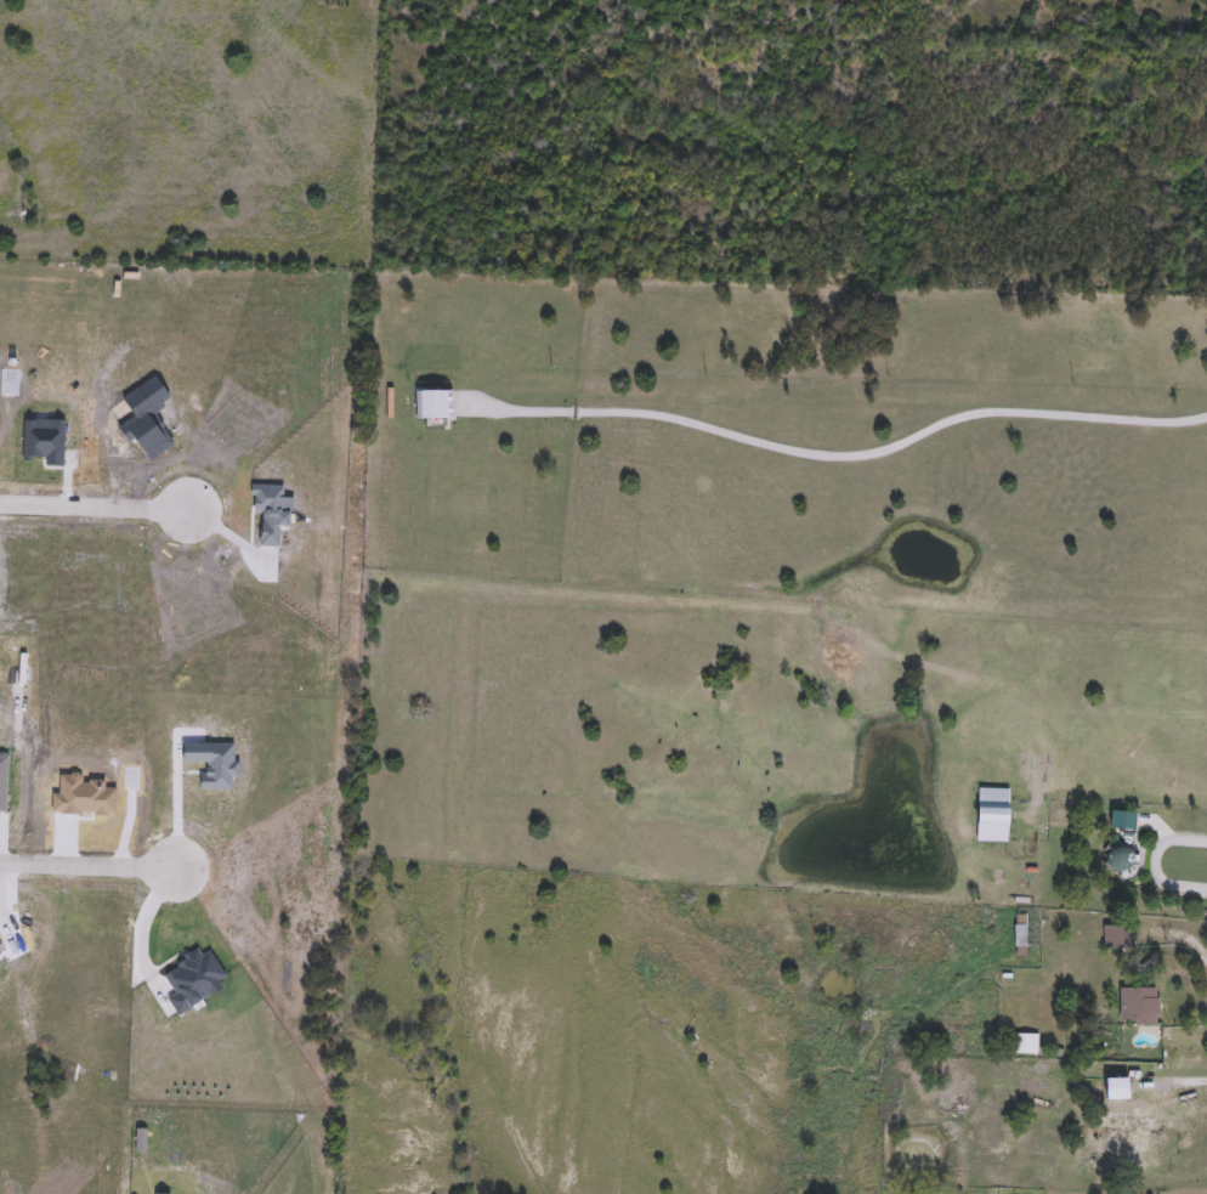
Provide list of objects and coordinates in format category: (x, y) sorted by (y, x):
road: (843, 452)
road: (93, 503)
building: (994, 815)
building: (1123, 820)
road: (1155, 861)
road: (86, 862)
road: (135, 927)
road: (1175, 932)
building: (1116, 936)
building: (1139, 1006)
building: (1025, 1043)
building: (874, 1071)
road: (1180, 1079)
building: (1118, 1088)
building: (1149, 1133)

